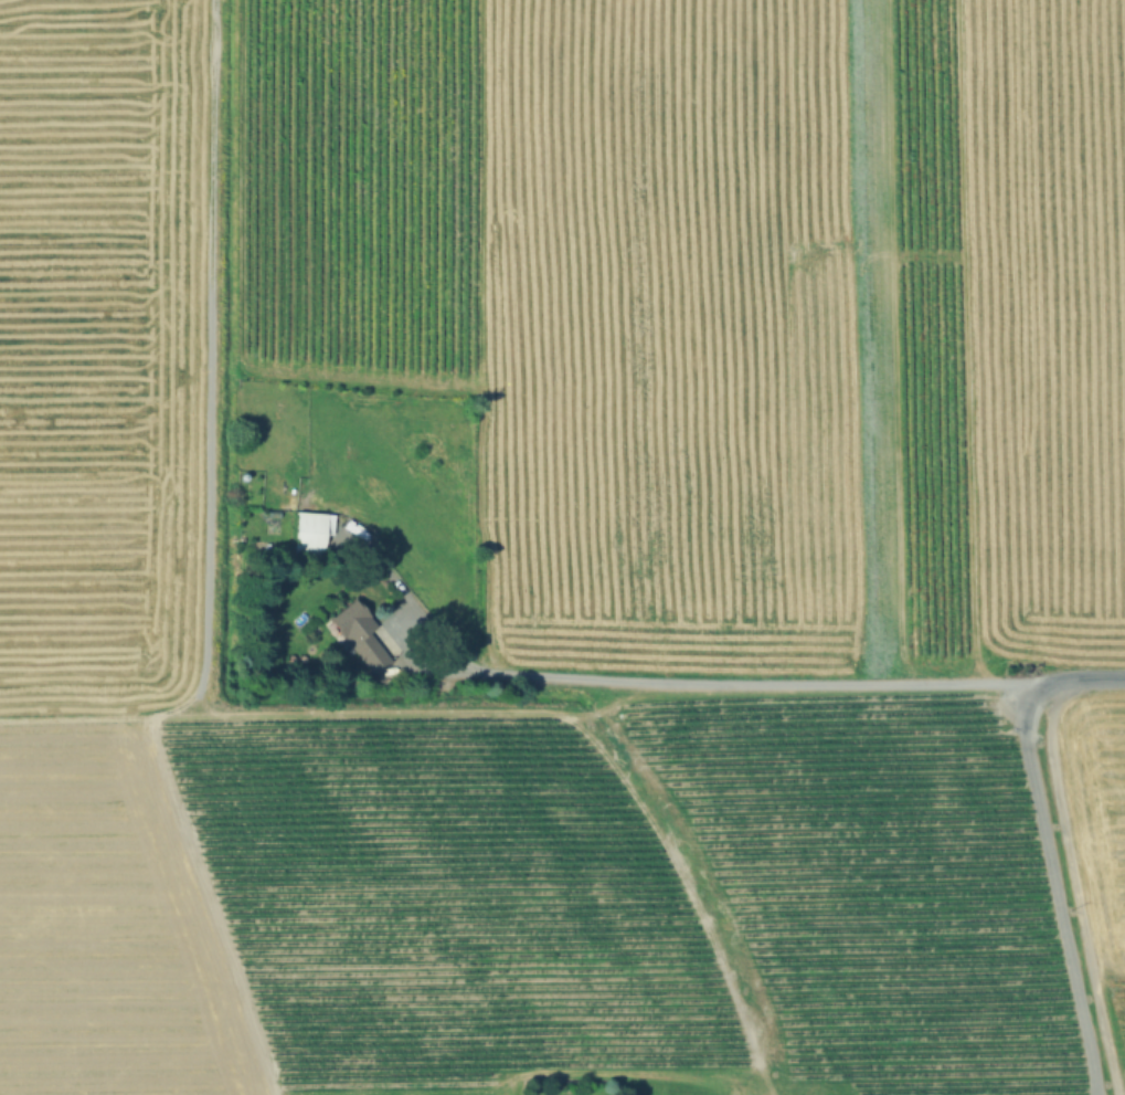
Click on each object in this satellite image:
building: (308, 533)
crop: (562, 547)
building: (357, 634)
road: (771, 681)
road: (1046, 845)

